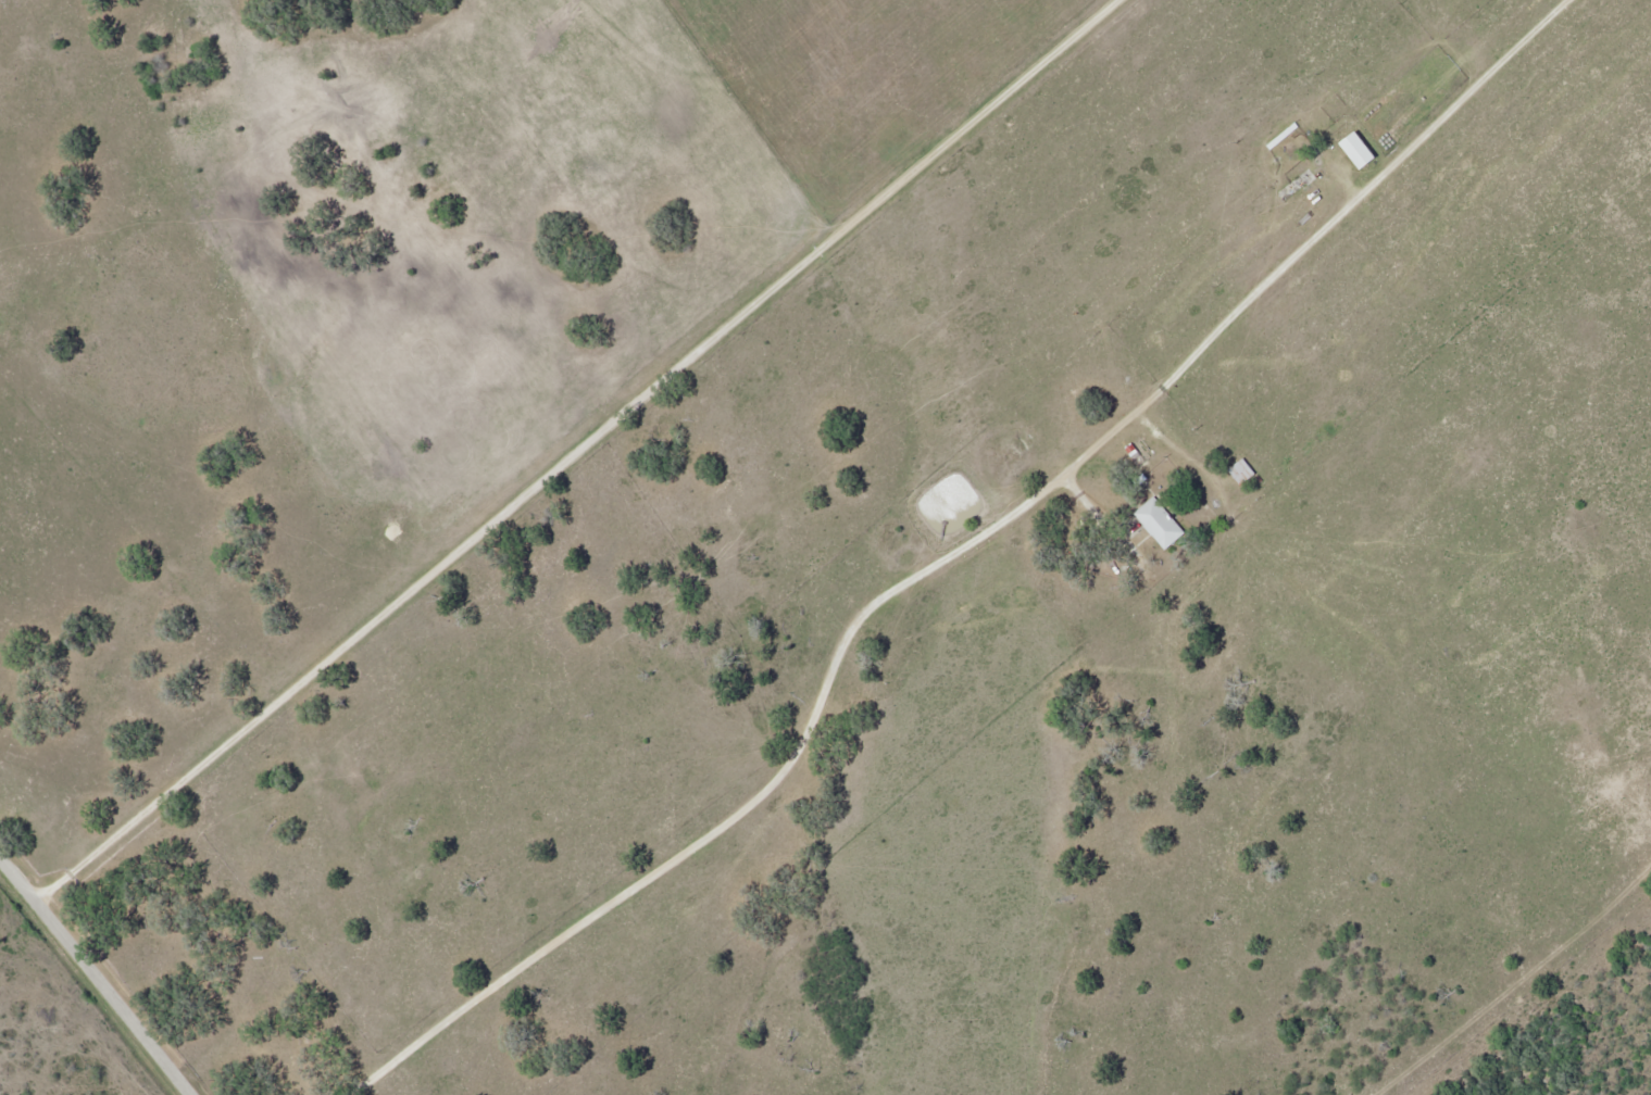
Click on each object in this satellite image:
building: (1362, 150)
road: (583, 451)
building: (1243, 470)
building: (1161, 521)
road: (955, 552)
road: (99, 972)

